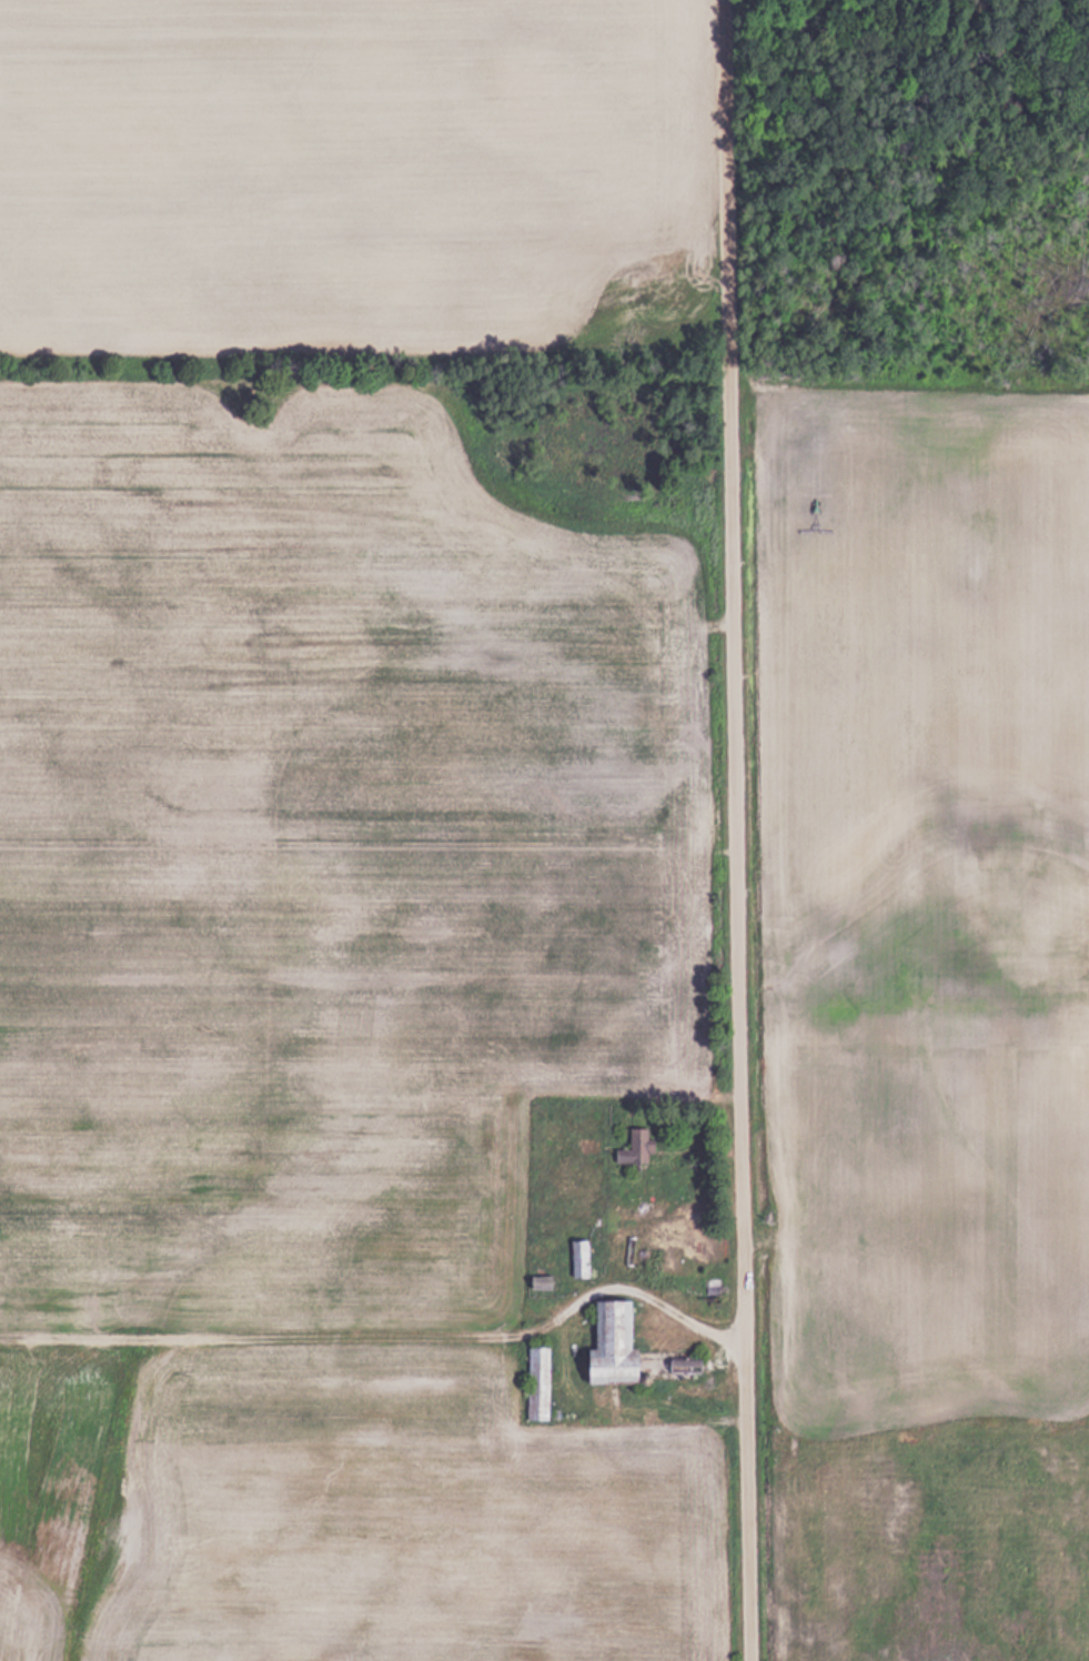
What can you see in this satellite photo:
road: (736, 829)
building: (636, 1146)
building: (579, 1257)
building: (615, 1345)
building: (687, 1363)
building: (537, 1382)

